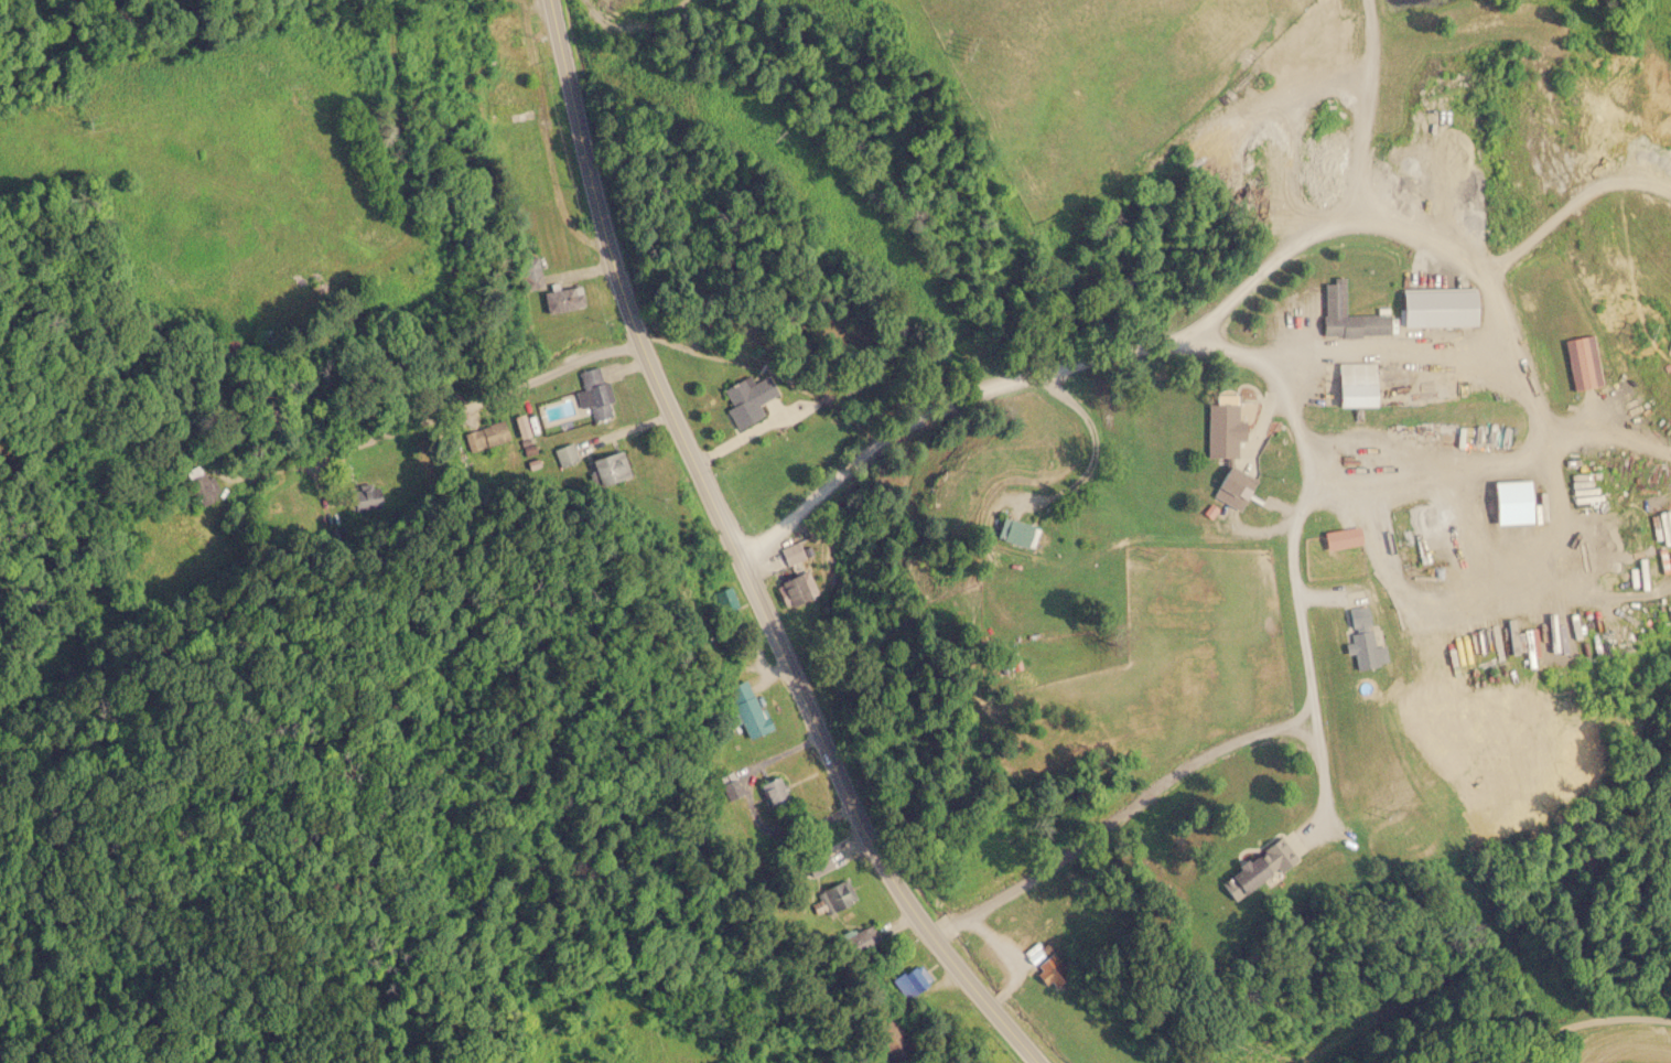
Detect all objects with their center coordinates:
building: (515, 115)
building: (1473, 162)
building: (528, 261)
building: (562, 299)
building: (1437, 308)
building: (1347, 314)
building: (1582, 362)
building: (1356, 384)
building: (593, 391)
building: (747, 399)
road: (992, 407)
road: (442, 411)
building: (520, 426)
building: (1223, 428)
building: (486, 436)
road: (1111, 443)
building: (567, 454)
building: (608, 468)
building: (201, 484)
building: (1233, 487)
building: (366, 498)
building: (1016, 531)
building: (1341, 537)
building: (791, 554)
road: (739, 557)
road: (1296, 577)
building: (797, 587)
building: (724, 599)
building: (1362, 638)
building: (746, 708)
road: (1301, 708)
road: (1308, 732)
building: (730, 786)
building: (774, 791)
road: (1110, 826)
building: (816, 861)
building: (1253, 867)
building: (838, 894)
building: (1023, 931)
building: (861, 939)
building: (1049, 968)
building: (914, 979)
building: (884, 1034)
road: (1576, 1035)

